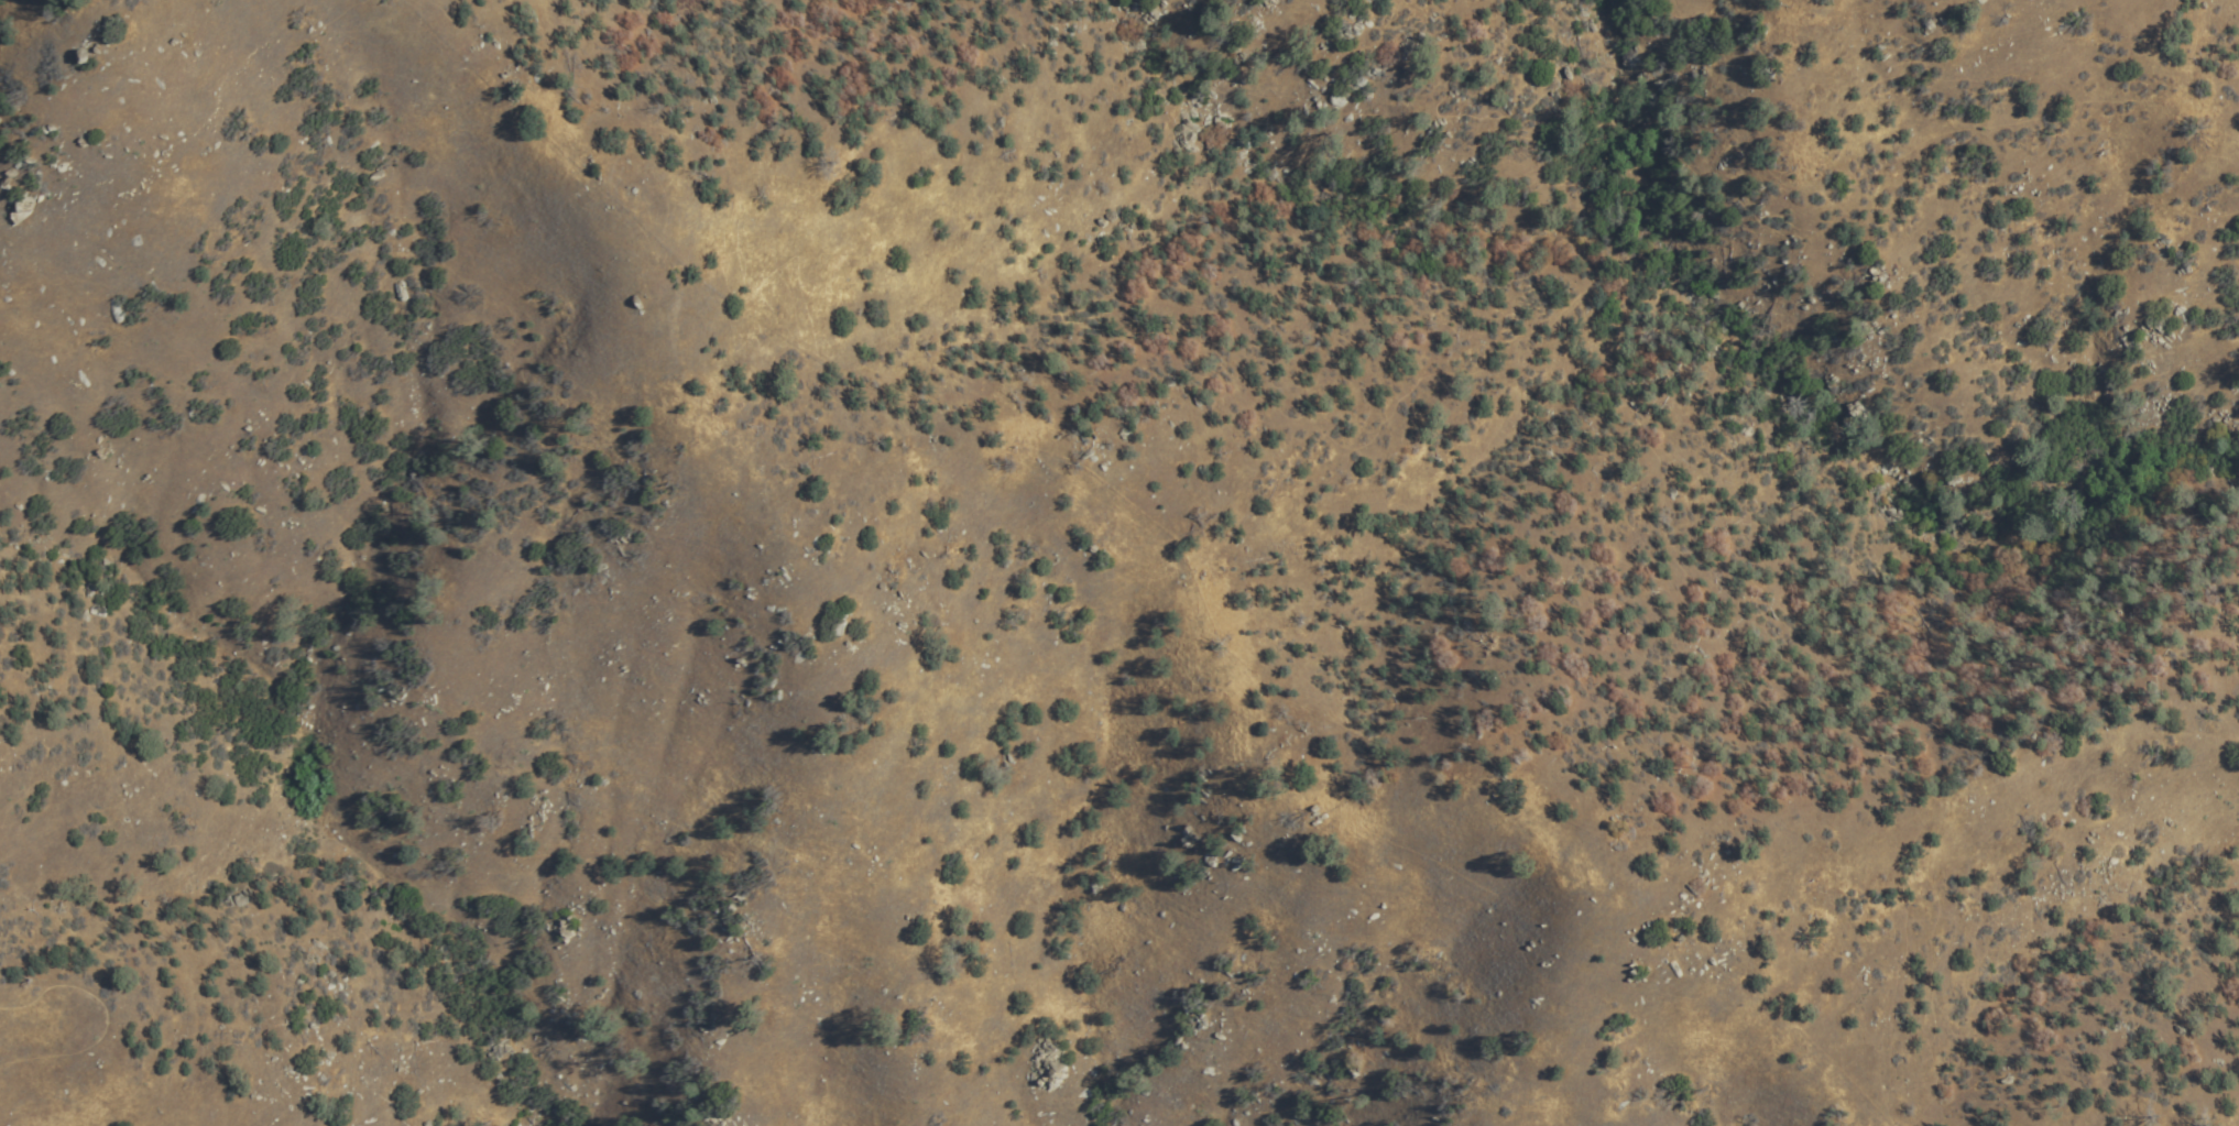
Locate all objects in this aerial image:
road: (106, 1017)

